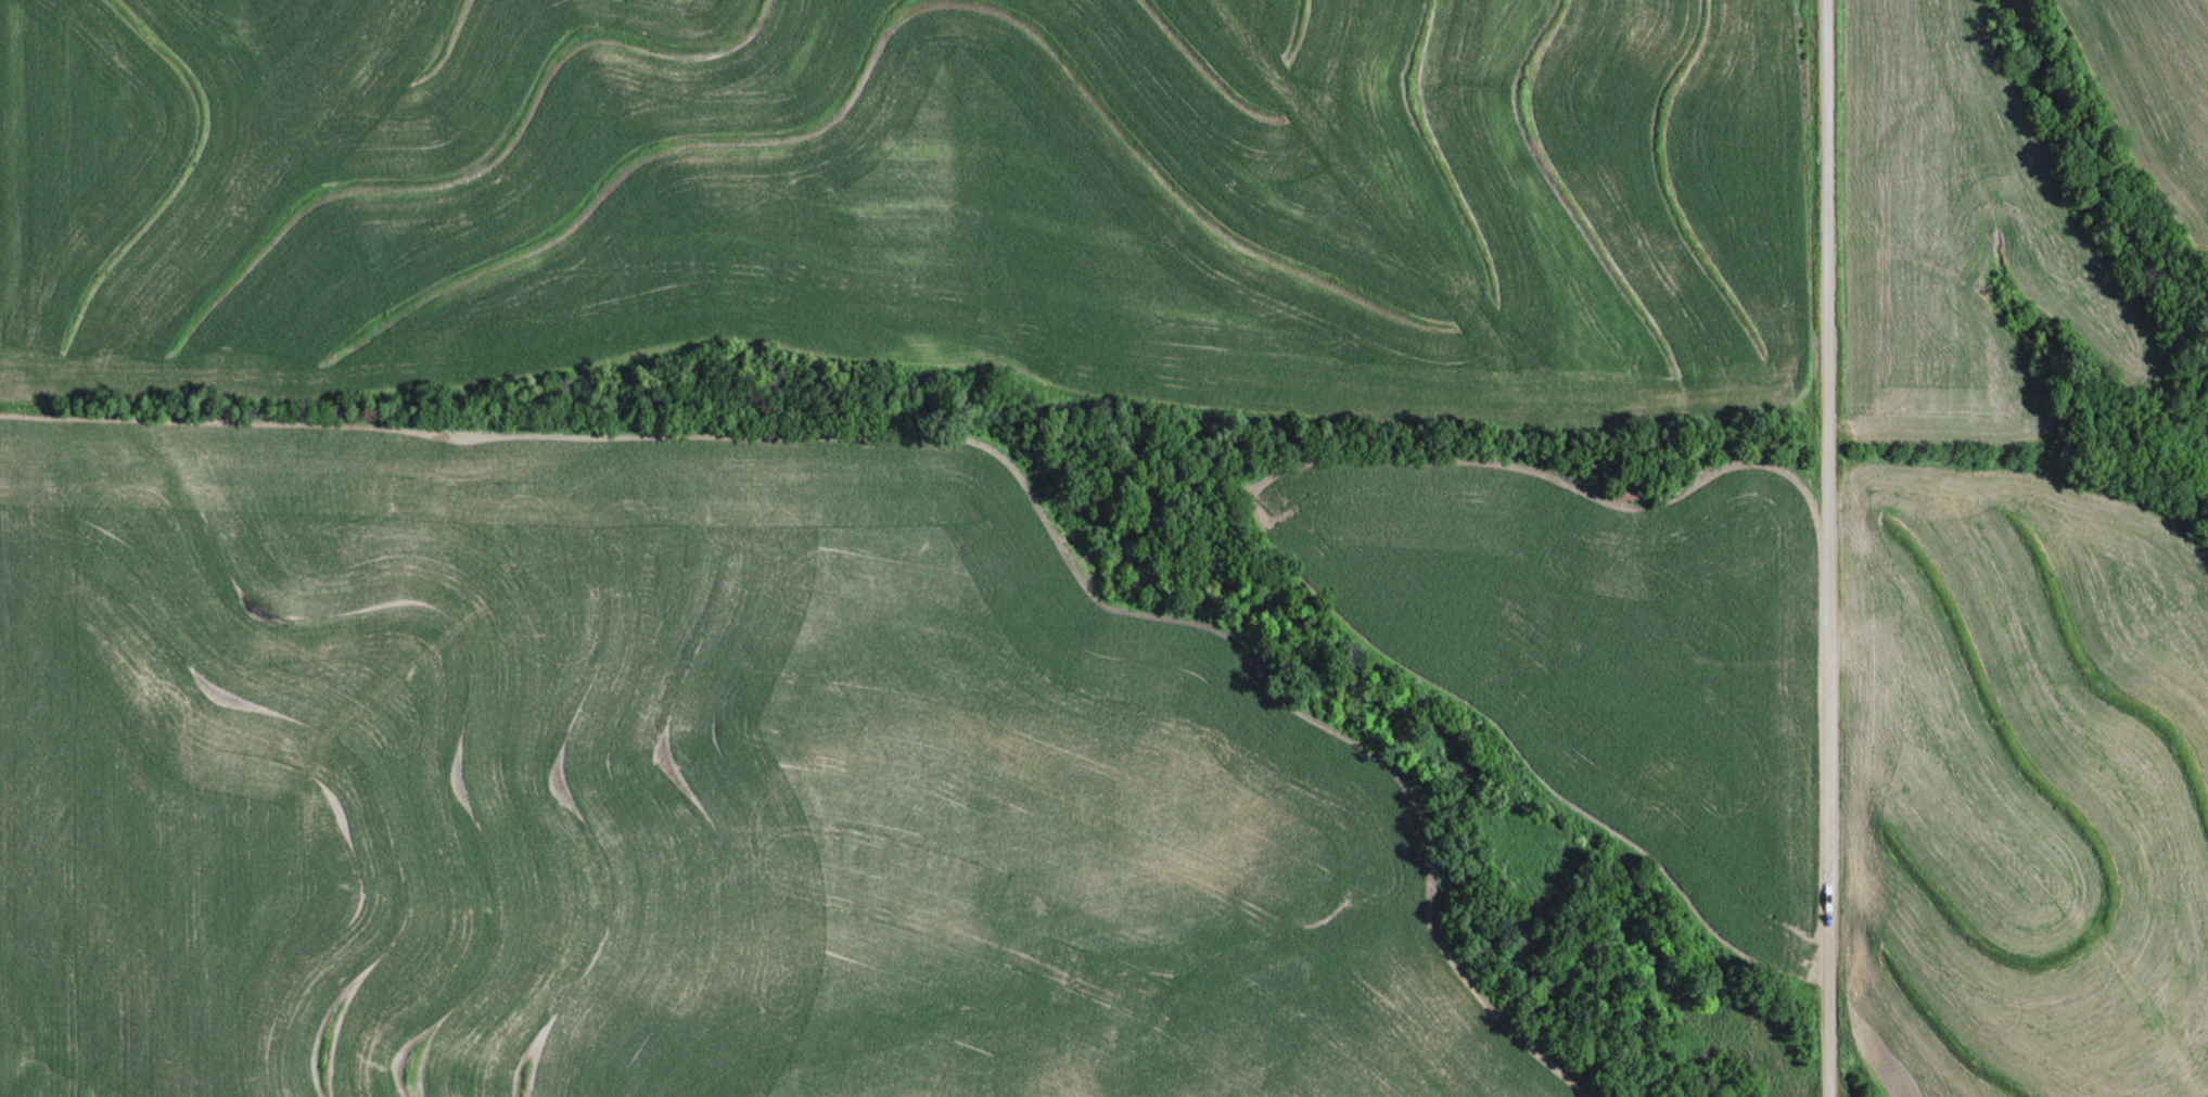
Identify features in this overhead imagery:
road: (1834, 548)

